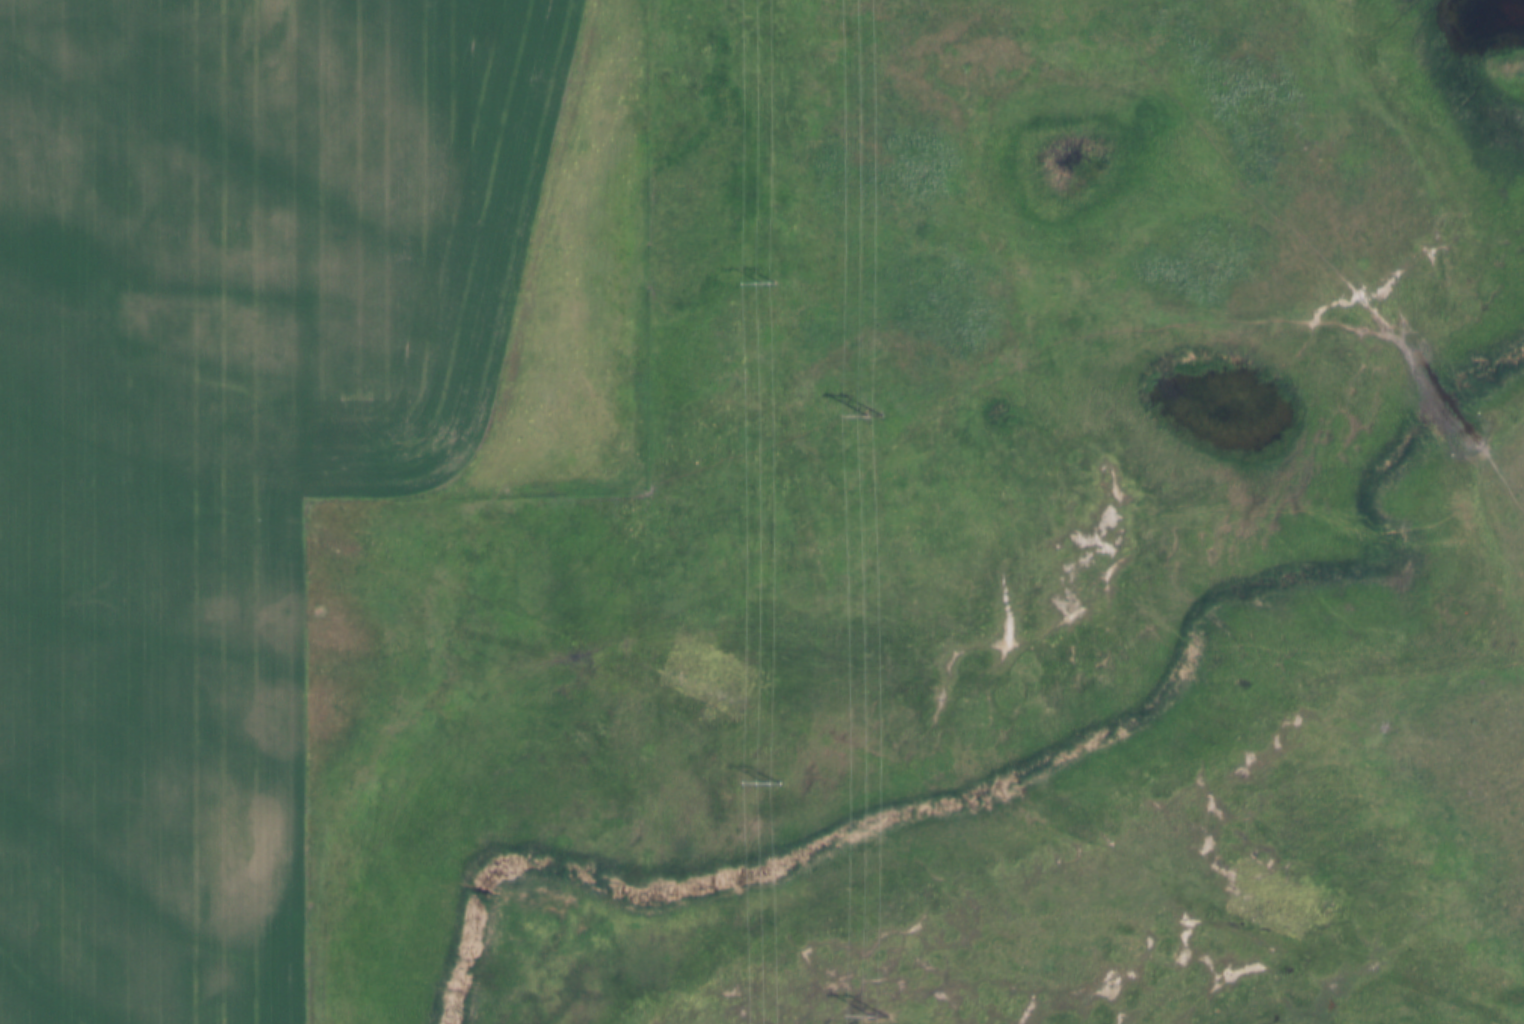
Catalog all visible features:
power tower: (763, 283)
power tower: (870, 416)
power tower: (767, 784)
power tower: (874, 1016)

